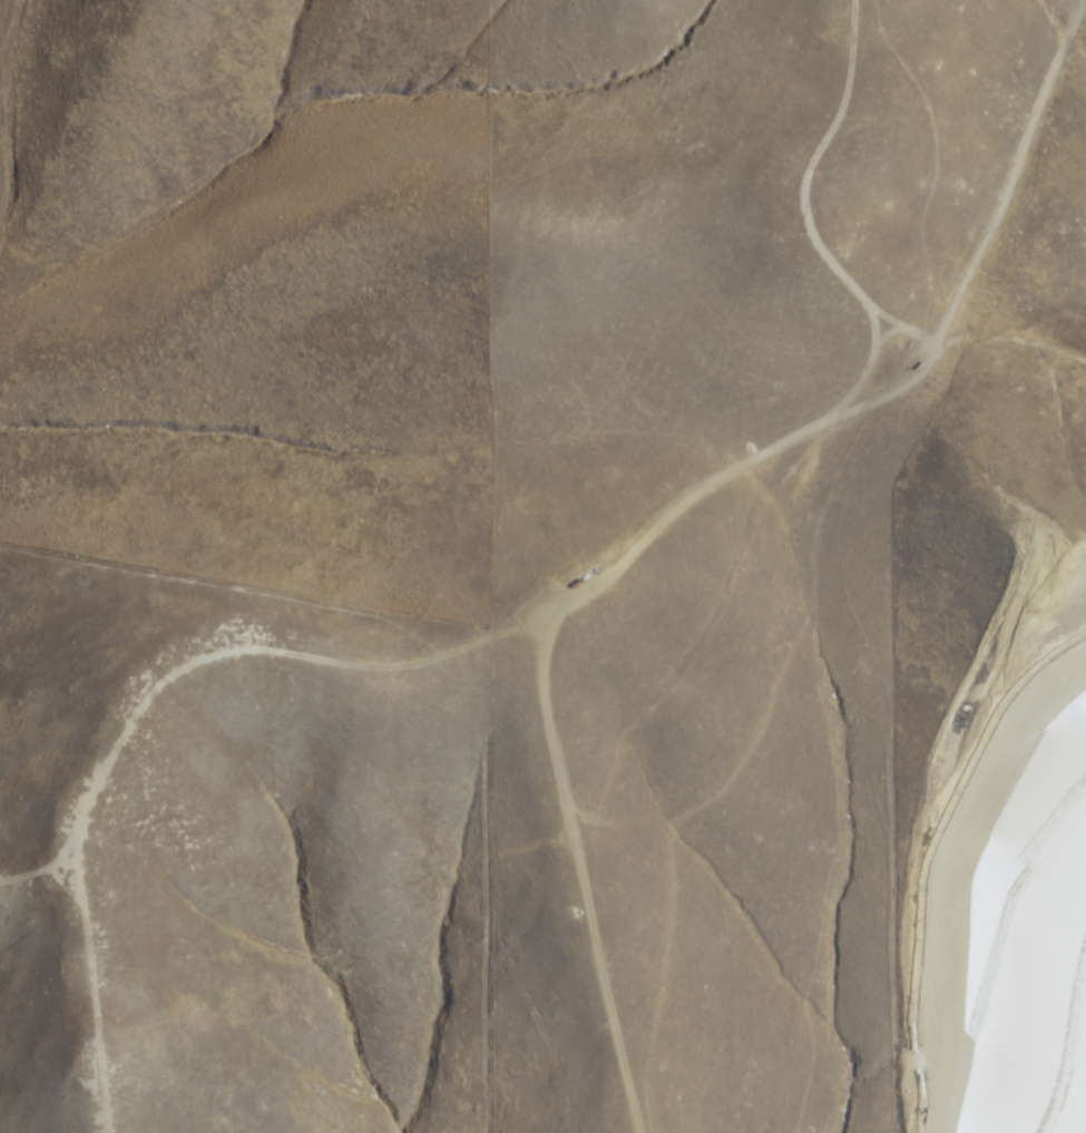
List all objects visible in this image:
landfill: (1021, 1025)

